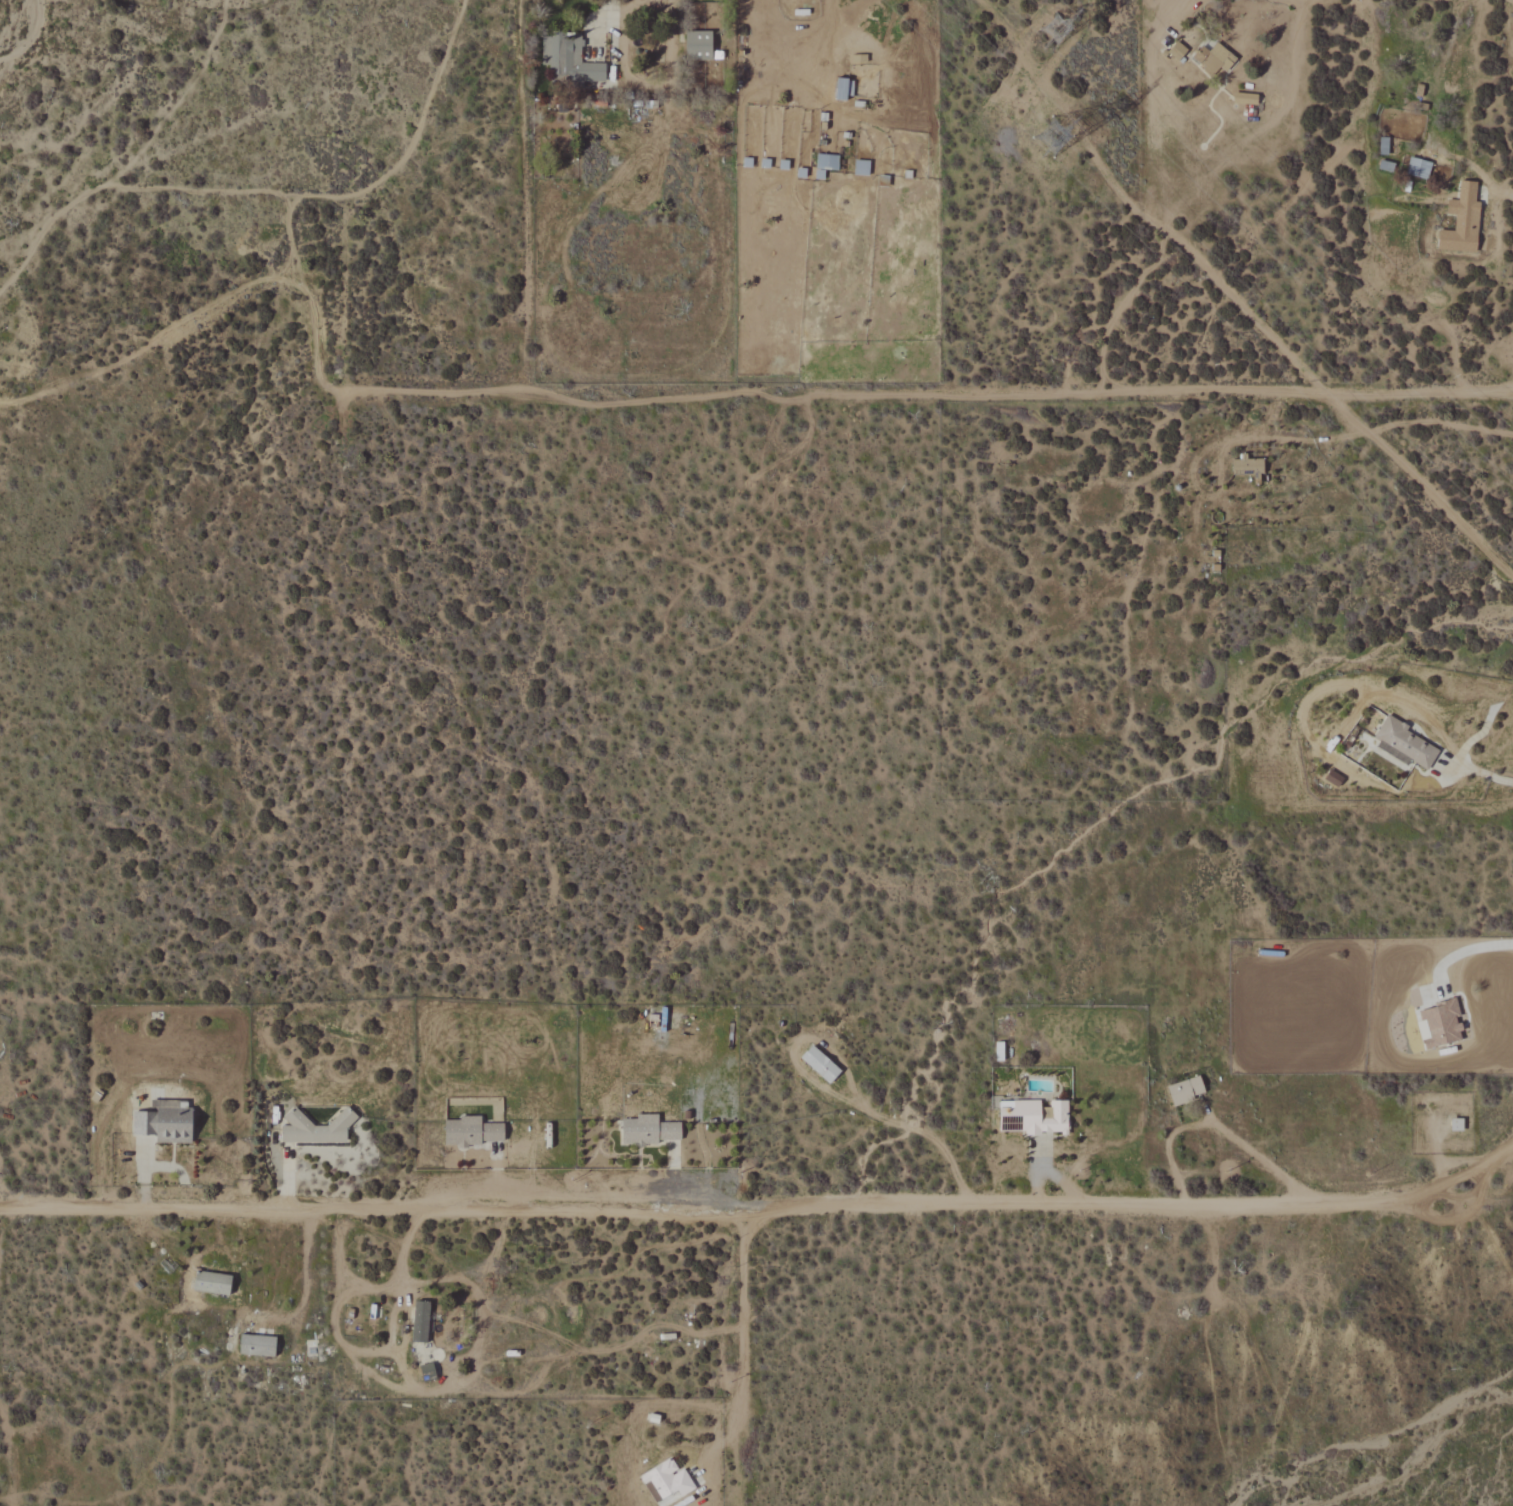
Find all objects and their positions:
road: (1173, 1)
power tower: (1047, 42)
building: (700, 46)
building: (1179, 52)
building: (1214, 59)
building: (570, 60)
building: (845, 89)
power tower: (1019, 104)
road: (1091, 150)
building: (1419, 168)
road: (1484, 176)
building: (1463, 222)
road: (925, 392)
road: (1365, 432)
building: (1405, 743)
road: (1485, 774)
building: (1335, 779)
road: (1467, 950)
building: (1441, 1025)
building: (821, 1064)
building: (1187, 1090)
building: (1035, 1117)
building: (166, 1124)
building: (1458, 1125)
road: (1212, 1126)
building: (317, 1129)
building: (650, 1130)
building: (473, 1132)
road: (918, 1134)
road: (762, 1208)
road: (204, 1252)
road: (227, 1252)
building: (213, 1282)
road: (239, 1303)
road: (743, 1317)
building: (421, 1321)
building: (258, 1345)
road: (412, 1387)
building: (668, 1483)

